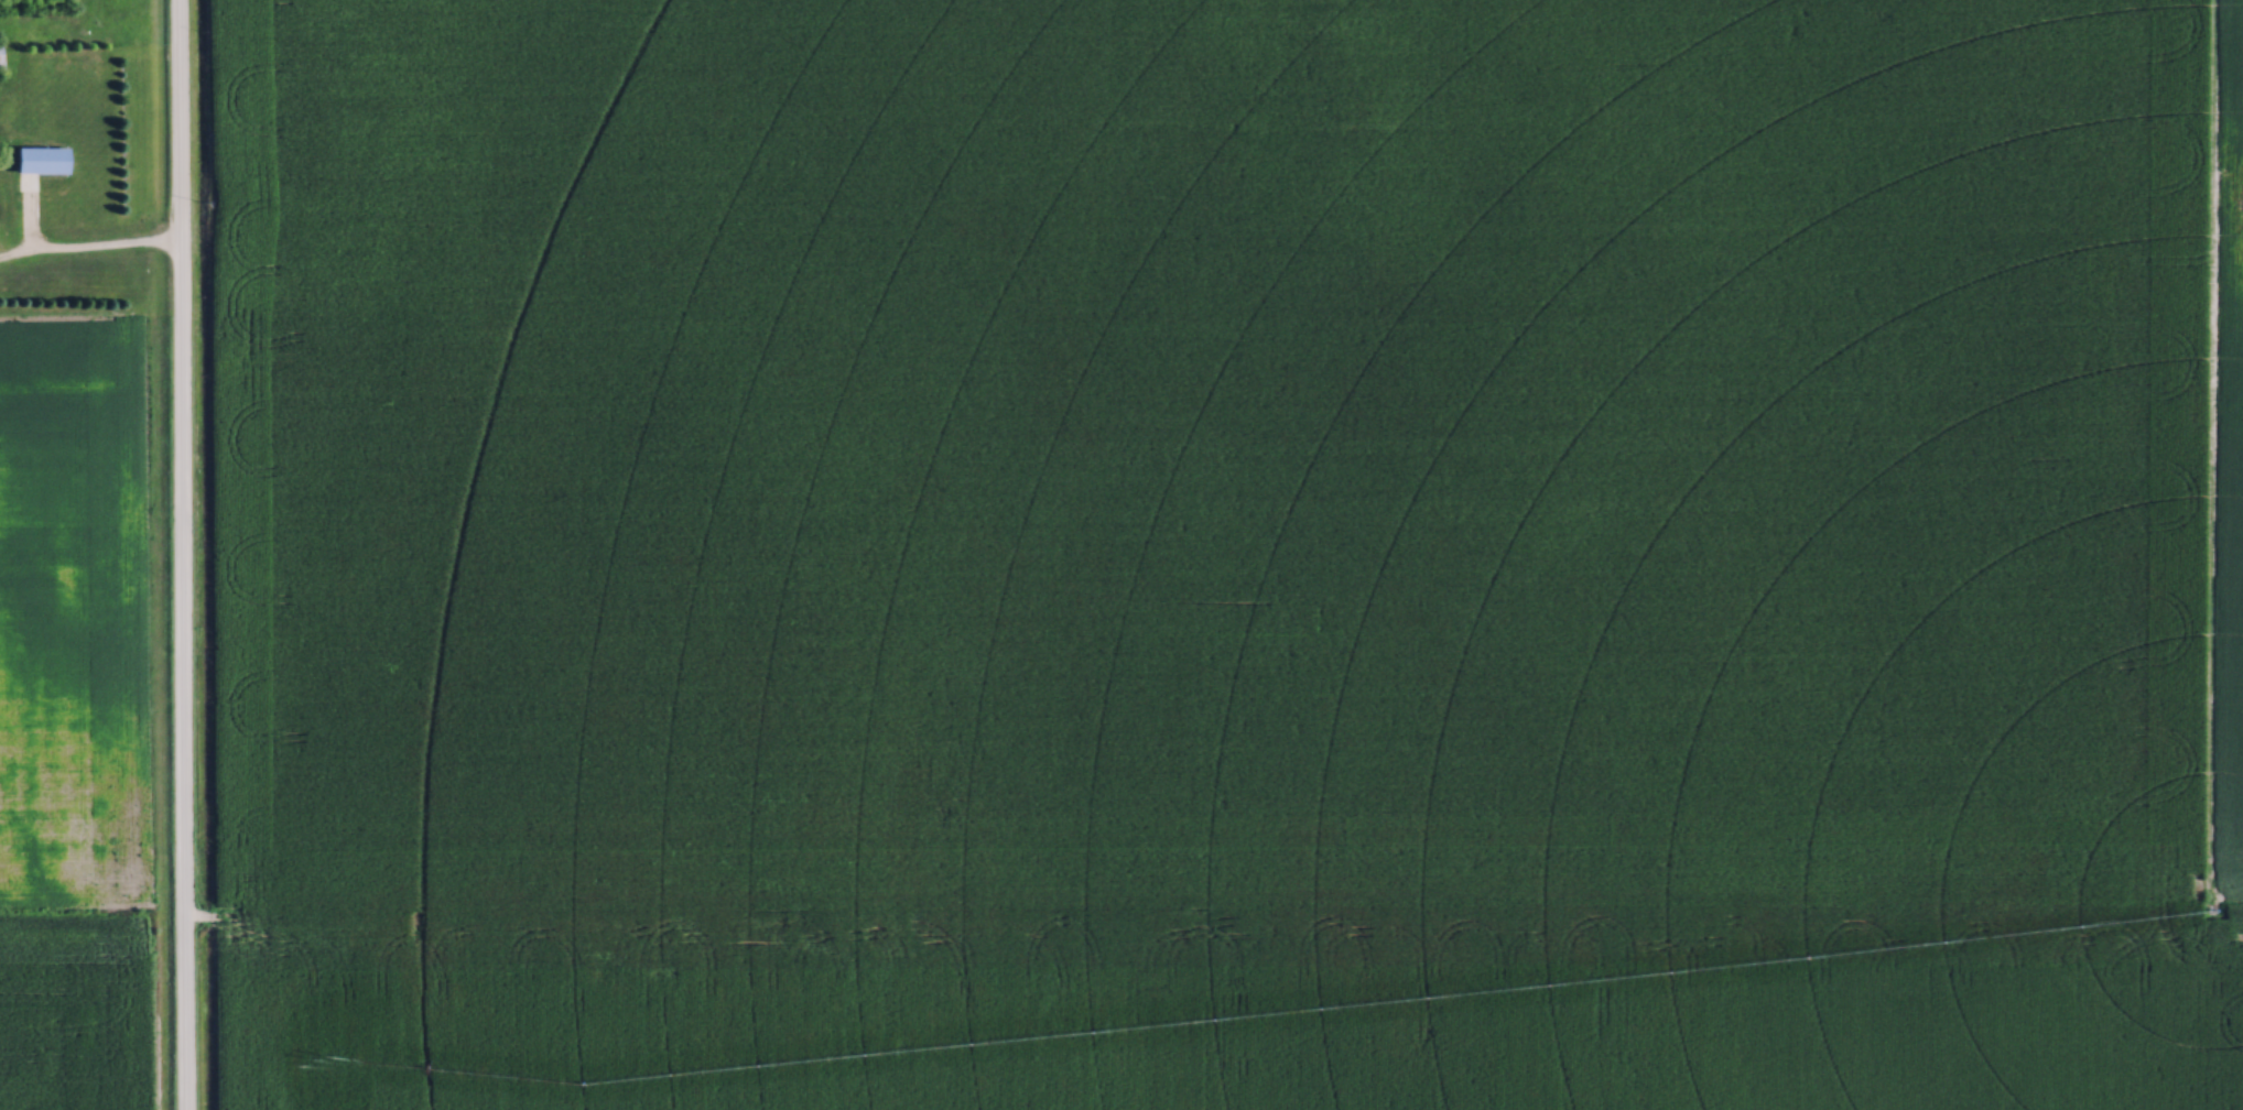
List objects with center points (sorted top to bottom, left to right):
building: (0, 65)
building: (40, 159)
road: (80, 251)
road: (182, 555)

